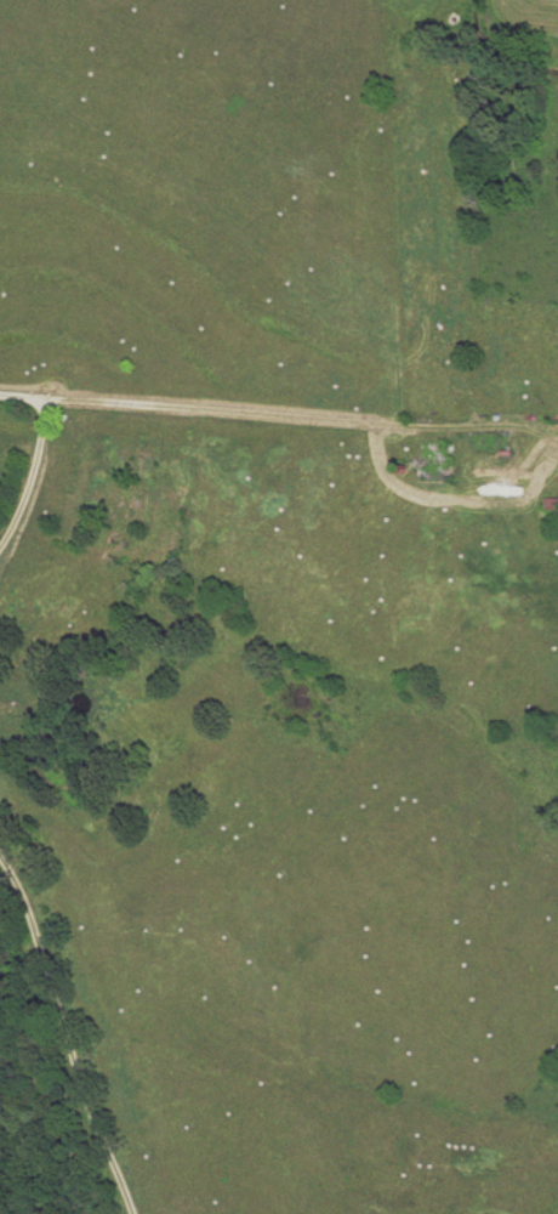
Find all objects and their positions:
road: (35, 455)
road: (67, 1032)

